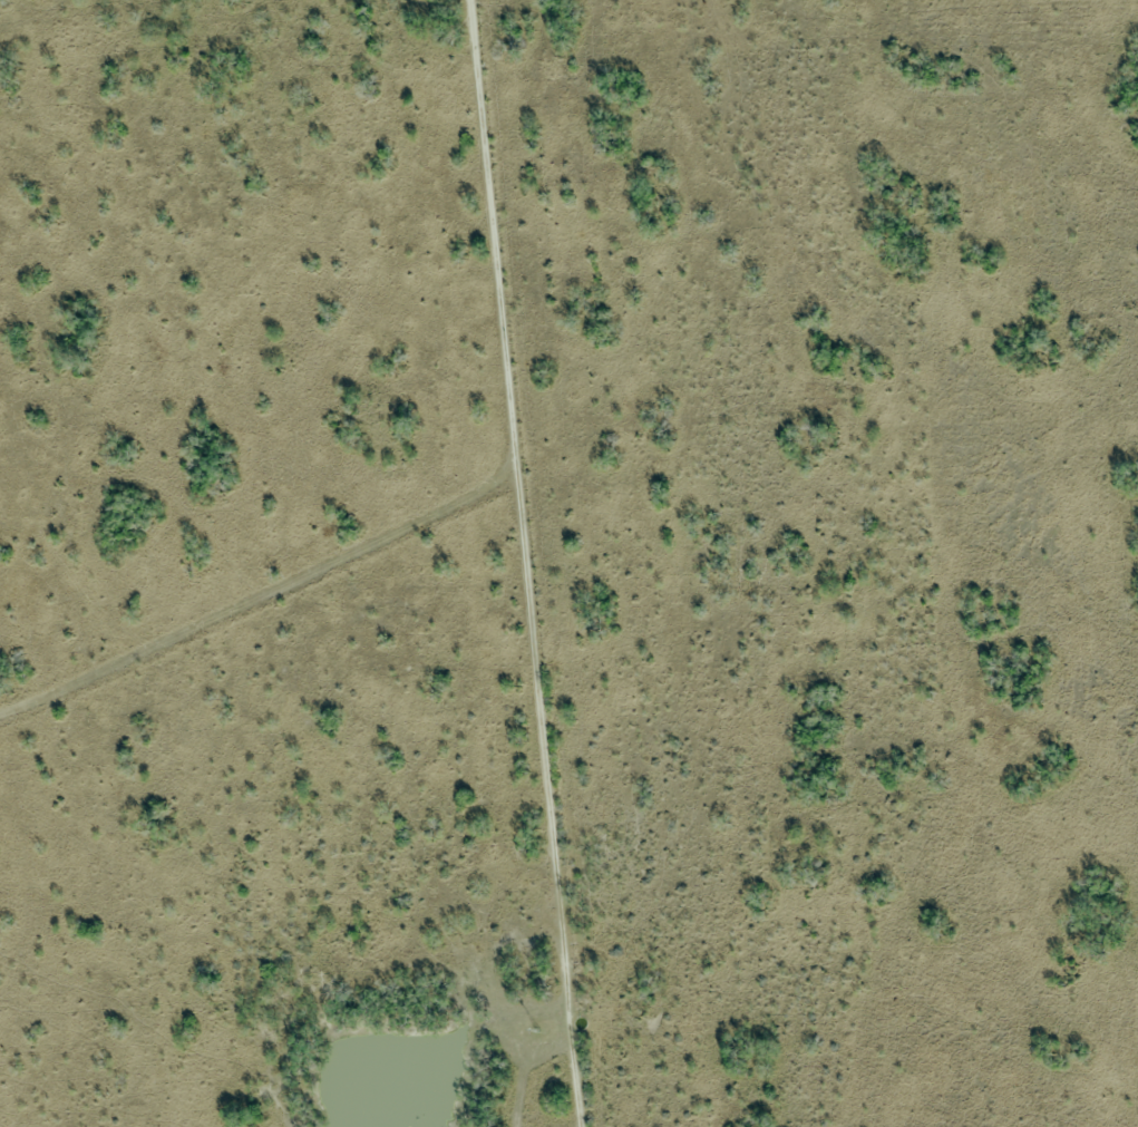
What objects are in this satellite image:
road: (735, 546)

